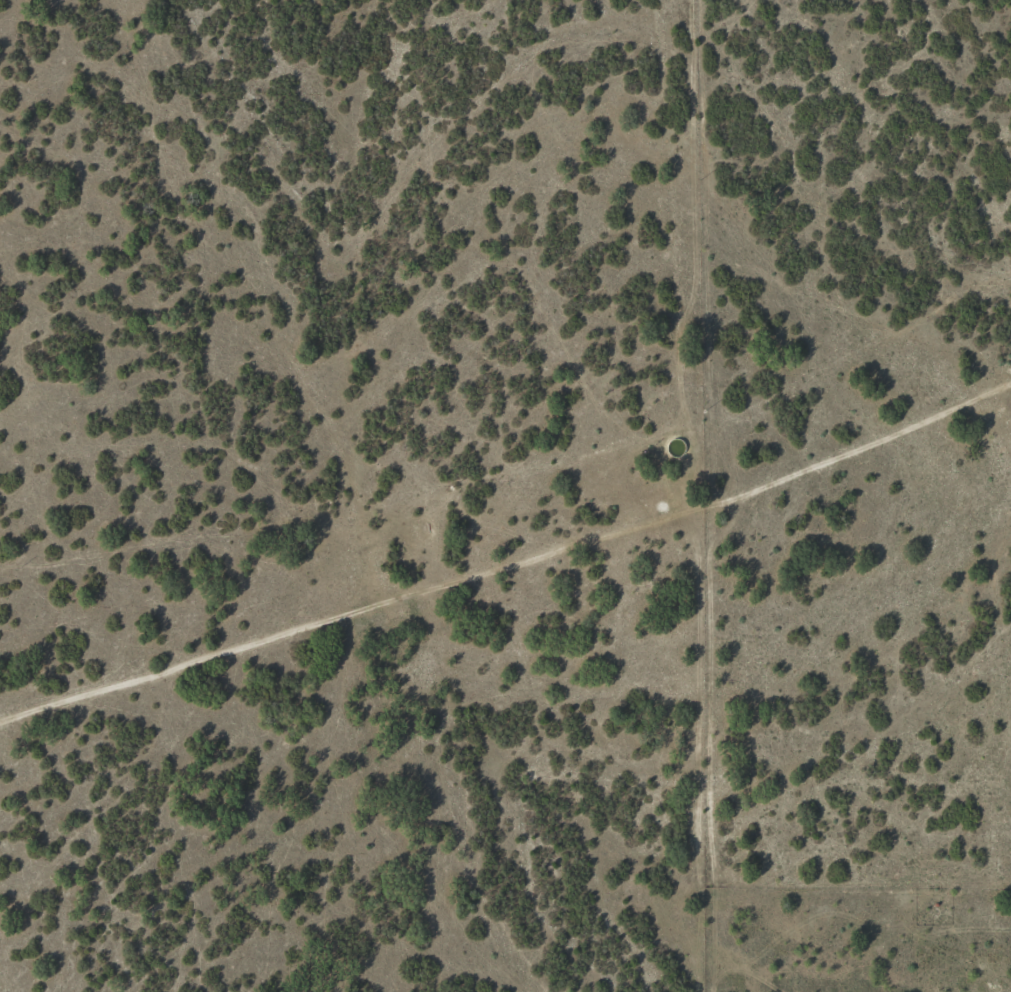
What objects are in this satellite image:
road: (853, 447)
road: (587, 534)

